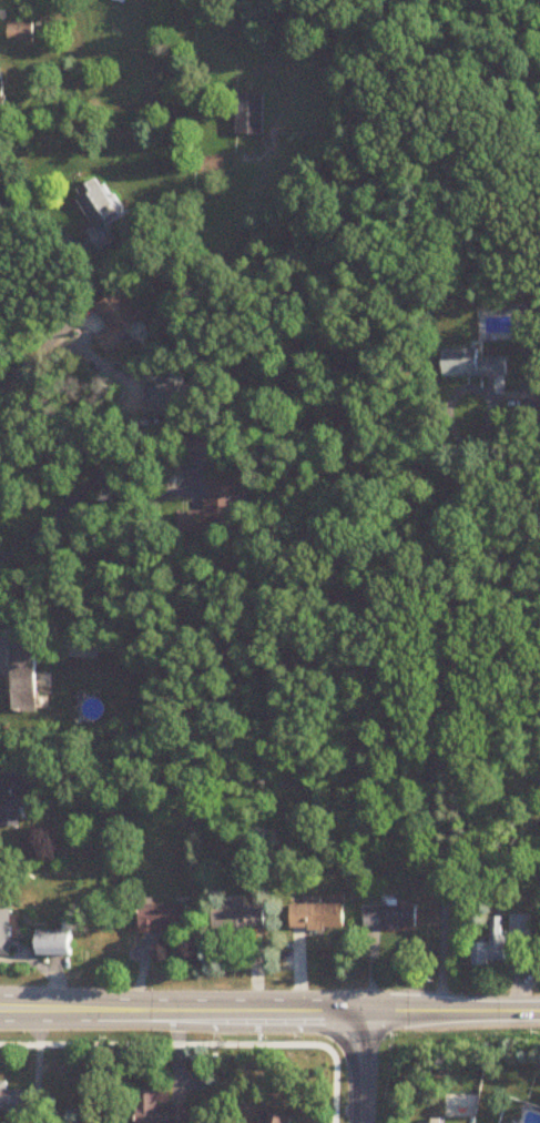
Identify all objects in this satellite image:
building: (22, 33)
building: (2, 95)
building: (251, 115)
building: (101, 214)
road: (39, 221)
building: (122, 321)
road: (32, 342)
building: (472, 365)
building: (173, 396)
building: (198, 445)
road: (187, 472)
building: (220, 512)
road: (33, 537)
road: (452, 639)
building: (28, 680)
building: (17, 799)
building: (322, 918)
building: (389, 918)
building: (242, 919)
building: (166, 921)
building: (518, 925)
building: (6, 931)
building: (59, 945)
building: (489, 945)
road: (44, 970)
road: (451, 1010)
road: (181, 1011)
road: (360, 1066)
building: (18, 1103)
building: (160, 1110)
building: (277, 1119)

